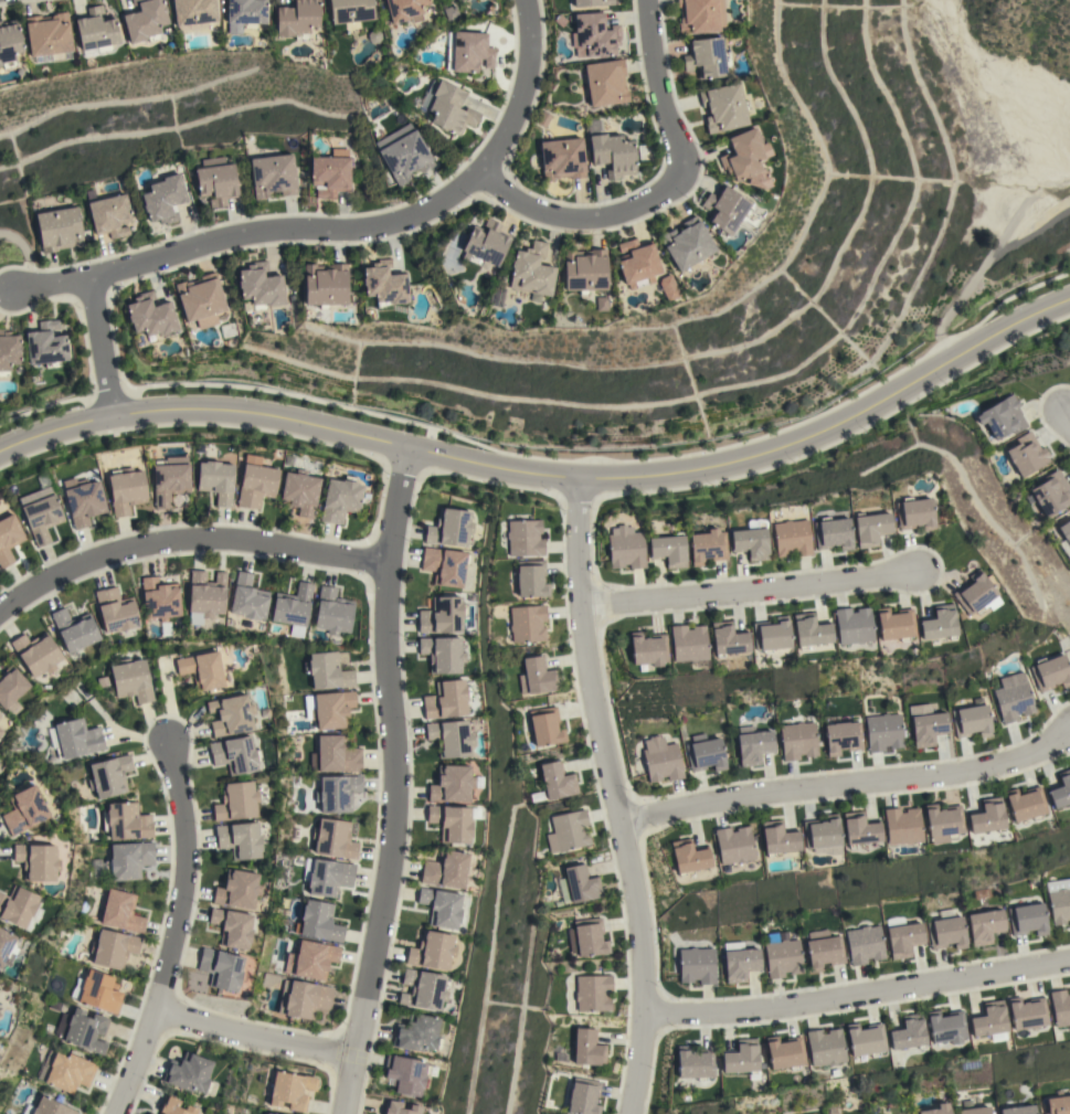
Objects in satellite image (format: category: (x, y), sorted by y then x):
building: (453, 0)
building: (591, 2)
building: (405, 10)
building: (193, 12)
building: (246, 12)
building: (452, 13)
building: (351, 15)
building: (700, 15)
building: (298, 19)
building: (145, 21)
building: (95, 32)
building: (595, 34)
building: (49, 38)
building: (9, 43)
building: (468, 51)
building: (706, 57)
building: (0, 65)
building: (605, 83)
building: (447, 107)
building: (722, 107)
building: (542, 119)
building: (610, 151)
building: (403, 153)
building: (742, 155)
building: (562, 159)
building: (330, 173)
building: (273, 176)
building: (216, 181)
road: (658, 191)
building: (163, 199)
building: (724, 209)
building: (110, 215)
road: (338, 229)
building: (60, 230)
building: (687, 243)
building: (485, 244)
road: (24, 254)
building: (637, 263)
building: (531, 270)
building: (584, 270)
building: (384, 284)
building: (325, 285)
building: (668, 287)
building: (258, 288)
building: (200, 297)
building: (496, 297)
building: (601, 303)
building: (150, 316)
building: (45, 344)
road: (97, 346)
building: (9, 352)
building: (1003, 417)
road: (1067, 423)
building: (1027, 454)
road: (548, 475)
building: (170, 479)
building: (216, 480)
building: (256, 482)
building: (126, 490)
building: (299, 492)
building: (1051, 494)
building: (340, 499)
building: (84, 502)
street lamp: (561, 510)
building: (913, 513)
building: (42, 518)
building: (449, 528)
building: (870, 528)
building: (830, 533)
building: (1066, 537)
building: (525, 538)
building: (791, 538)
building: (9, 539)
road: (186, 539)
building: (751, 542)
building: (707, 547)
building: (625, 548)
building: (668, 550)
building: (445, 565)
street lamp: (590, 574)
building: (531, 579)
road: (743, 592)
building: (974, 594)
building: (205, 596)
building: (248, 598)
building: (160, 602)
building: (293, 608)
building: (116, 609)
building: (332, 612)
building: (443, 615)
building: (528, 623)
building: (936, 623)
building: (893, 624)
building: (851, 625)
building: (74, 629)
building: (809, 629)
building: (771, 634)
building: (728, 638)
building: (688, 643)
building: (648, 649)
building: (36, 654)
building: (443, 654)
building: (202, 670)
building: (327, 671)
building: (1050, 672)
building: (539, 675)
building: (131, 680)
building: (11, 689)
building: (1013, 698)
building: (448, 700)
building: (331, 710)
building: (0, 714)
building: (231, 715)
building: (971, 721)
building: (545, 726)
building: (928, 728)
building: (883, 732)
building: (75, 738)
building: (451, 738)
building: (843, 738)
building: (798, 740)
building: (753, 744)
building: (704, 753)
building: (235, 755)
building: (335, 755)
building: (661, 760)
building: (109, 776)
building: (557, 779)
road: (392, 782)
building: (453, 784)
road: (850, 786)
building: (1060, 789)
building: (337, 793)
road: (616, 795)
building: (236, 802)
building: (1026, 804)
building: (24, 810)
building: (987, 816)
building: (943, 820)
building: (126, 821)
building: (451, 823)
building: (902, 826)
building: (859, 829)
building: (568, 830)
building: (822, 835)
building: (778, 837)
building: (240, 839)
building: (333, 839)
building: (733, 845)
building: (689, 856)
building: (36, 861)
building: (125, 861)
building: (445, 869)
building: (327, 876)
building: (578, 884)
building: (237, 890)
building: (1059, 900)
building: (441, 906)
building: (19, 908)
building: (121, 912)
building: (1028, 919)
building: (320, 922)
building: (985, 925)
building: (232, 927)
road: (172, 929)
building: (946, 930)
building: (586, 937)
building: (904, 940)
building: (865, 944)
building: (7, 947)
building: (113, 948)
building: (824, 949)
building: (431, 951)
building: (783, 958)
building: (314, 959)
building: (740, 961)
building: (697, 965)
building: (221, 968)
building: (423, 989)
building: (97, 993)
building: (593, 993)
road: (859, 995)
building: (304, 999)
street lamp: (183, 1005)
building: (1060, 1008)
building: (1028, 1014)
building: (989, 1021)
building: (946, 1027)
building: (84, 1031)
building: (908, 1032)
building: (416, 1033)
road: (251, 1037)
building: (866, 1039)
building: (825, 1047)
building: (587, 1048)
street lamp: (235, 1050)
building: (785, 1052)
building: (741, 1058)
street lamp: (318, 1063)
building: (695, 1063)
building: (65, 1071)
building: (189, 1073)
building: (407, 1074)
street lamp: (145, 1080)
building: (290, 1090)
building: (583, 1096)
building: (1058, 1105)
building: (173, 1106)
building: (47, 1107)
building: (399, 1107)
building: (939, 1110)
building: (1019, 1110)
building: (977, 1111)
building: (148, 1113)
building: (268, 1113)

